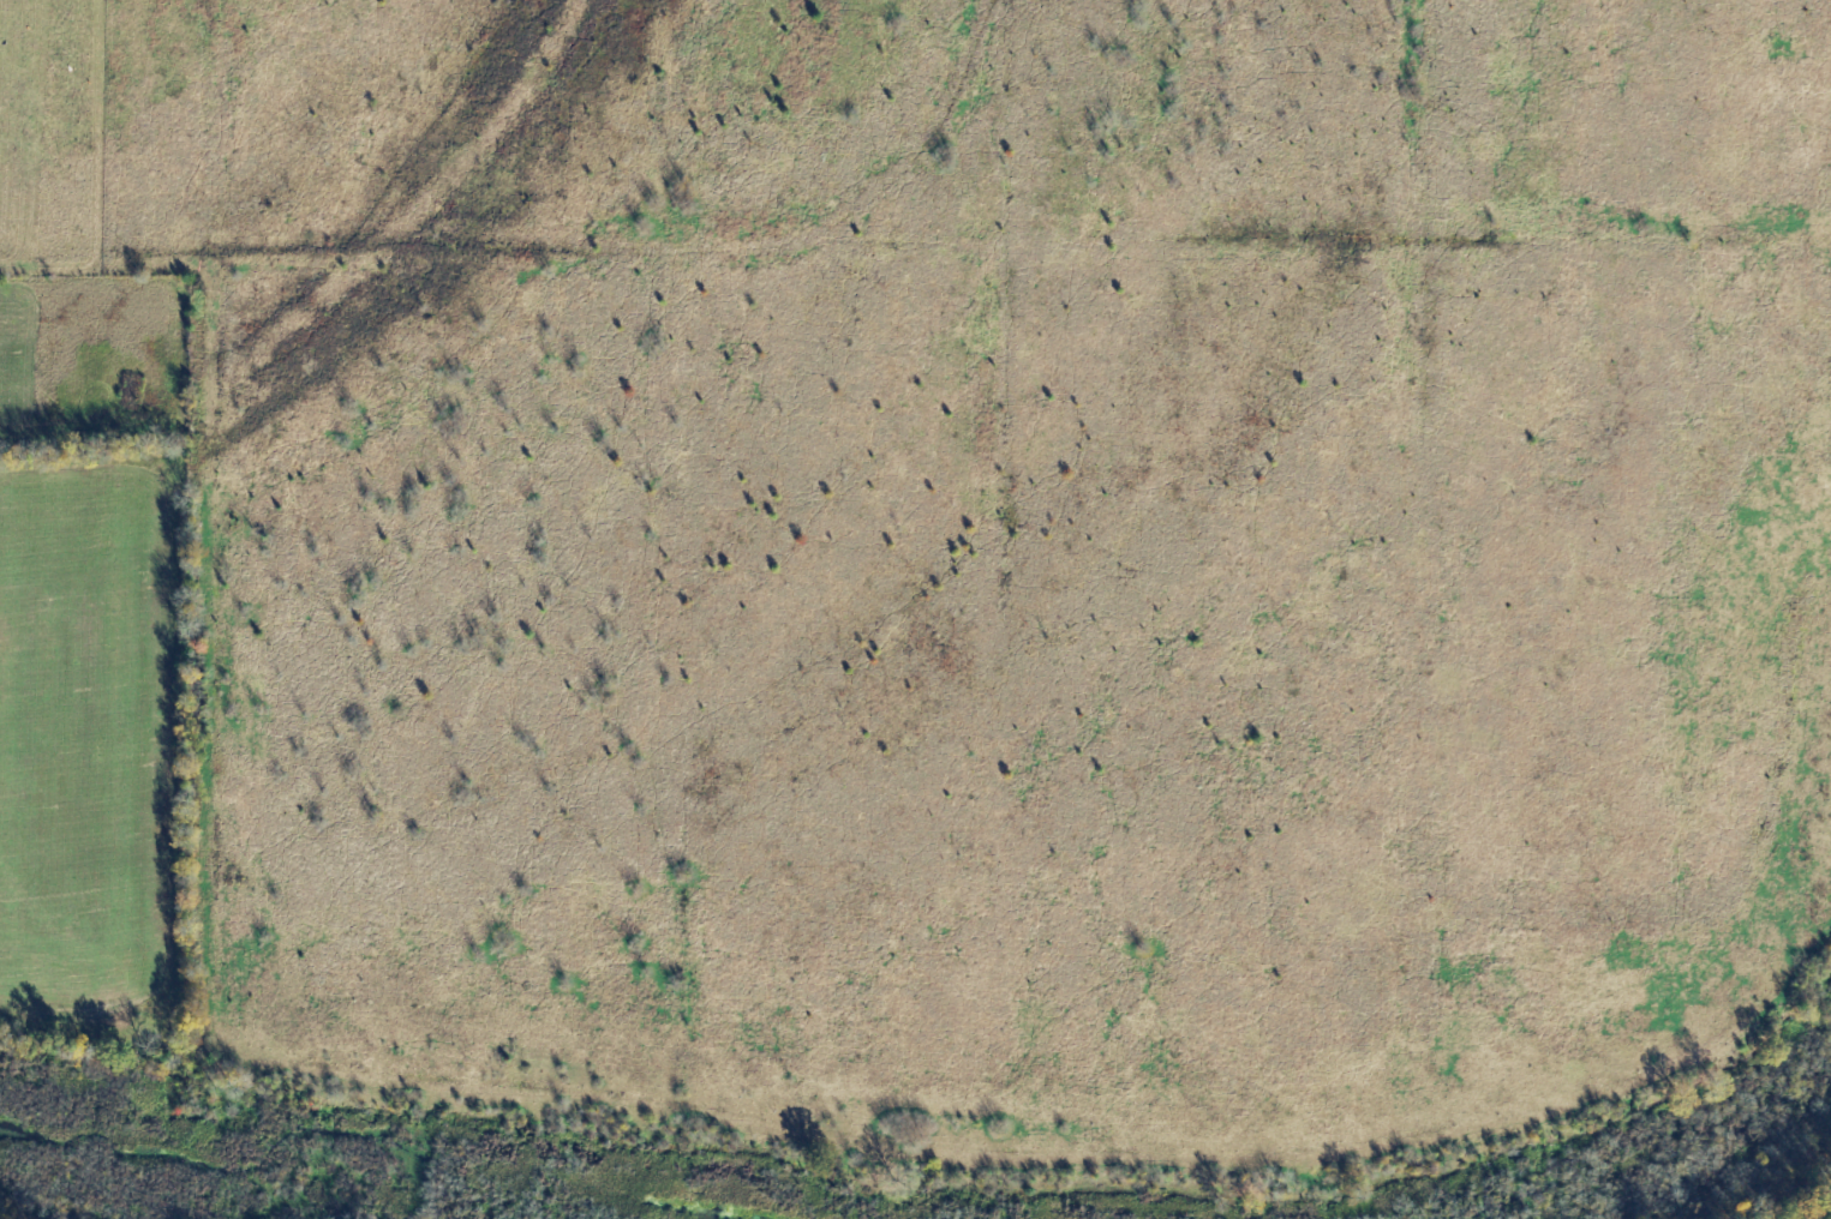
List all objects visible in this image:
road: (1803, 1201)

